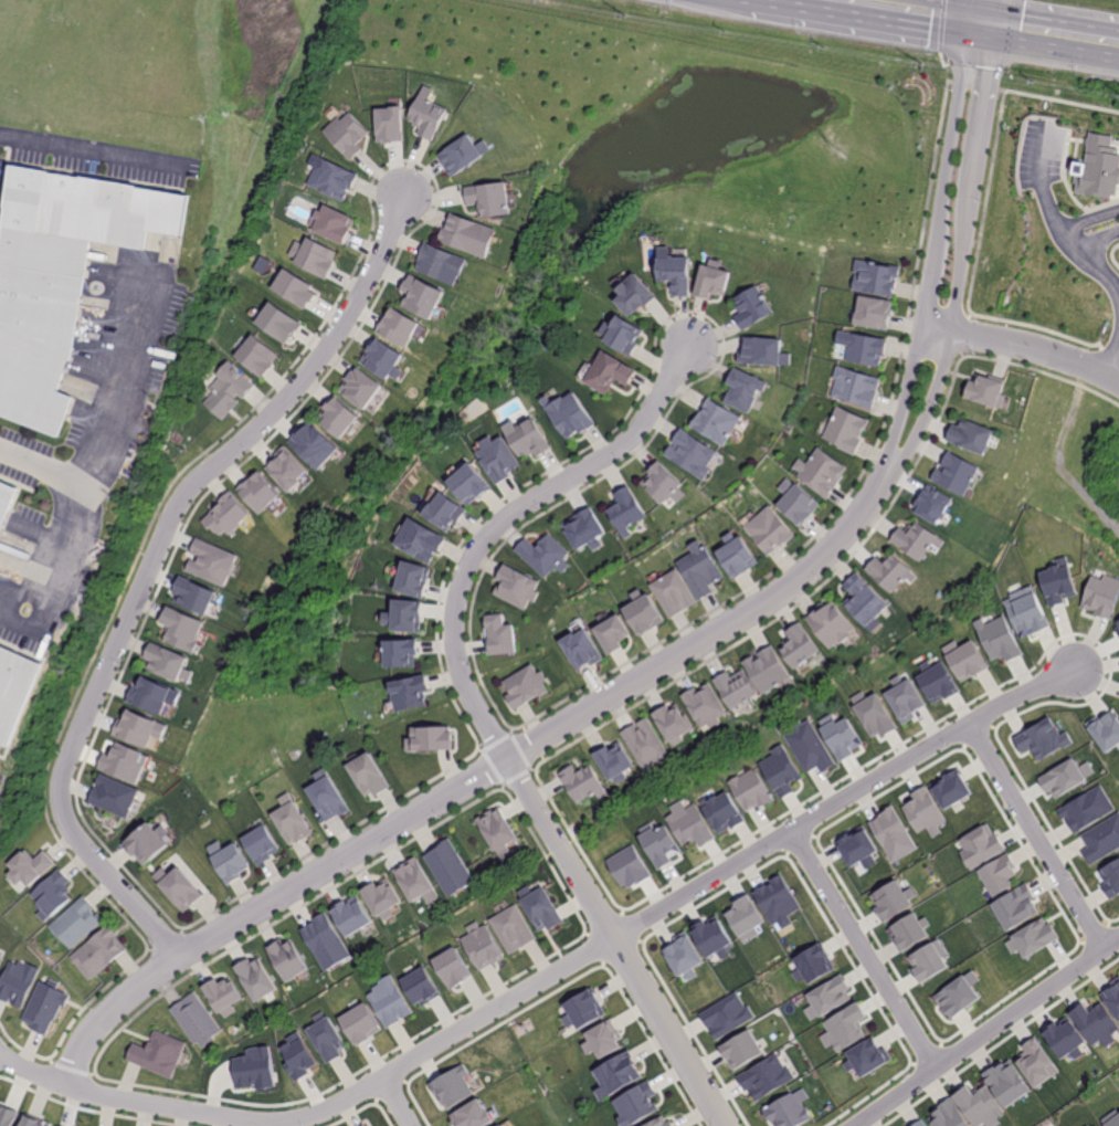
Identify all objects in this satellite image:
road: (901, 11)
road: (973, 11)
road: (995, 12)
traffic signals: (972, 22)
road: (983, 23)
traffic signals: (994, 25)
road: (1056, 35)
building: (427, 117)
building: (390, 125)
building: (349, 135)
building: (463, 156)
building: (1101, 170)
road: (946, 177)
building: (334, 179)
road: (972, 179)
building: (490, 199)
road: (1057, 221)
building: (334, 224)
road: (1107, 225)
building: (469, 234)
road: (1081, 234)
building: (316, 256)
building: (442, 264)
building: (674, 272)
building: (61, 276)
building: (875, 278)
building: (712, 282)
building: (296, 288)
building: (423, 296)
building: (634, 297)
building: (751, 308)
building: (874, 313)
building: (278, 323)
building: (399, 327)
road: (936, 333)
building: (621, 336)
road: (1038, 347)
building: (866, 351)
building: (762, 352)
building: (258, 357)
road: (1109, 358)
building: (384, 360)
building: (609, 373)
building: (855, 388)
building: (230, 389)
building: (361, 389)
building: (743, 389)
building: (988, 391)
road: (906, 411)
building: (569, 414)
road: (928, 417)
building: (339, 418)
road: (109, 422)
building: (716, 422)
building: (846, 431)
building: (971, 436)
building: (526, 438)
building: (315, 444)
building: (692, 453)
building: (498, 460)
building: (288, 470)
building: (821, 473)
building: (957, 475)
building: (662, 484)
building: (471, 485)
building: (261, 493)
building: (6, 501)
building: (795, 504)
building: (931, 506)
building: (624, 511)
building: (445, 513)
building: (229, 516)
building: (583, 529)
building: (769, 532)
building: (421, 541)
building: (917, 541)
building: (543, 556)
building: (736, 556)
road: (64, 557)
building: (212, 562)
road: (152, 564)
building: (700, 571)
building: (891, 573)
building: (414, 579)
building: (1059, 582)
building: (516, 587)
building: (673, 593)
building: (1102, 596)
building: (197, 597)
building: (865, 601)
building: (1026, 611)
building: (643, 613)
building: (404, 617)
building: (832, 627)
building: (1117, 628)
building: (183, 629)
building: (499, 635)
building: (612, 635)
building: (997, 639)
building: (800, 648)
building: (580, 650)
building: (401, 653)
building: (963, 659)
building: (169, 662)
building: (767, 669)
building: (936, 683)
building: (737, 687)
building: (525, 688)
building: (13, 690)
building: (409, 693)
building: (155, 695)
building: (905, 698)
building: (706, 705)
building: (875, 714)
road: (482, 716)
building: (673, 725)
building: (140, 728)
building: (1106, 729)
building: (841, 736)
building: (1042, 739)
building: (431, 740)
building: (645, 746)
building: (811, 748)
building: (614, 761)
building: (126, 765)
building: (781, 771)
building: (369, 777)
building: (1067, 778)
building: (583, 782)
road: (468, 785)
building: (952, 788)
building: (751, 791)
building: (115, 796)
building: (327, 799)
building: (1088, 809)
building: (923, 812)
building: (721, 813)
building: (292, 824)
building: (689, 824)
building: (497, 832)
road: (1037, 834)
building: (893, 835)
building: (1102, 841)
building: (148, 842)
building: (658, 844)
building: (260, 845)
building: (859, 846)
building: (981, 846)
building: (230, 860)
building: (32, 869)
building: (627, 869)
building: (450, 870)
building: (999, 876)
building: (1111, 878)
building: (415, 882)
building: (179, 887)
building: (51, 894)
building: (383, 899)
building: (778, 901)
building: (893, 901)
building: (540, 907)
building: (1017, 908)
building: (351, 916)
building: (743, 920)
building: (78, 923)
building: (513, 929)
building: (909, 932)
building: (712, 937)
building: (1032, 937)
building: (327, 943)
building: (482, 947)
road: (864, 949)
building: (98, 954)
building: (683, 956)
building: (929, 959)
building: (1, 960)
building: (288, 960)
building: (812, 965)
building: (454, 968)
road: (553, 974)
building: (256, 980)
building: (19, 983)
building: (422, 987)
building: (223, 997)
building: (960, 997)
building: (1112, 998)
building: (827, 999)
building: (390, 1002)
building: (44, 1008)
building: (583, 1011)
building: (727, 1015)
building: (198, 1022)
building: (361, 1024)
building: (1097, 1024)
building: (843, 1029)
road: (984, 1031)
building: (1066, 1036)
building: (328, 1038)
building: (603, 1041)
building: (740, 1050)
building: (158, 1055)
building: (297, 1055)
building: (865, 1056)
building: (1038, 1063)
building: (255, 1070)
building: (616, 1075)
building: (764, 1077)
building: (1009, 1083)
building: (454, 1088)
road: (398, 1102)
building: (636, 1104)
building: (978, 1105)
building: (789, 1109)
building: (475, 1115)
building: (948, 1115)
building: (7, 1116)
building: (1111, 1118)
building: (33, 1122)
building: (661, 1122)
building: (917, 1123)
building: (363, 1125)
building: (500, 1125)
building: (1094, 1125)

